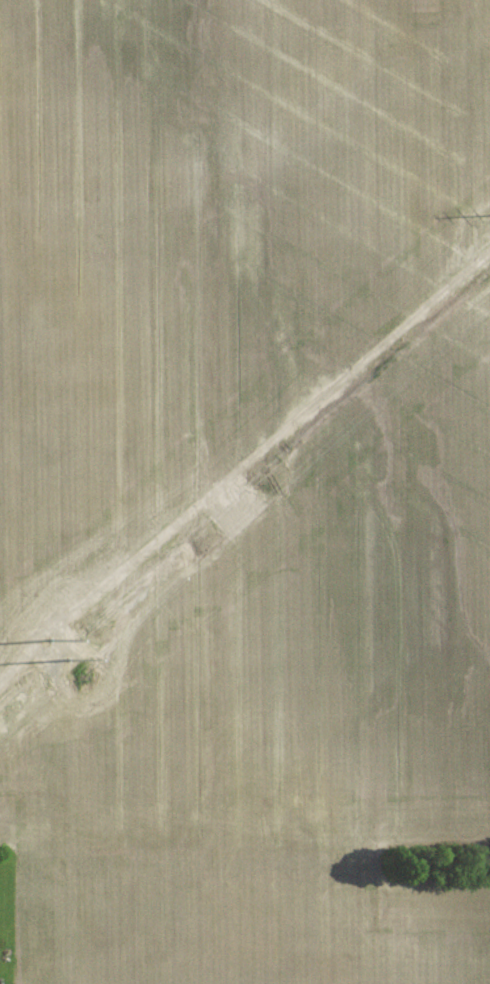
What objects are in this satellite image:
power tower: (76, 672)

